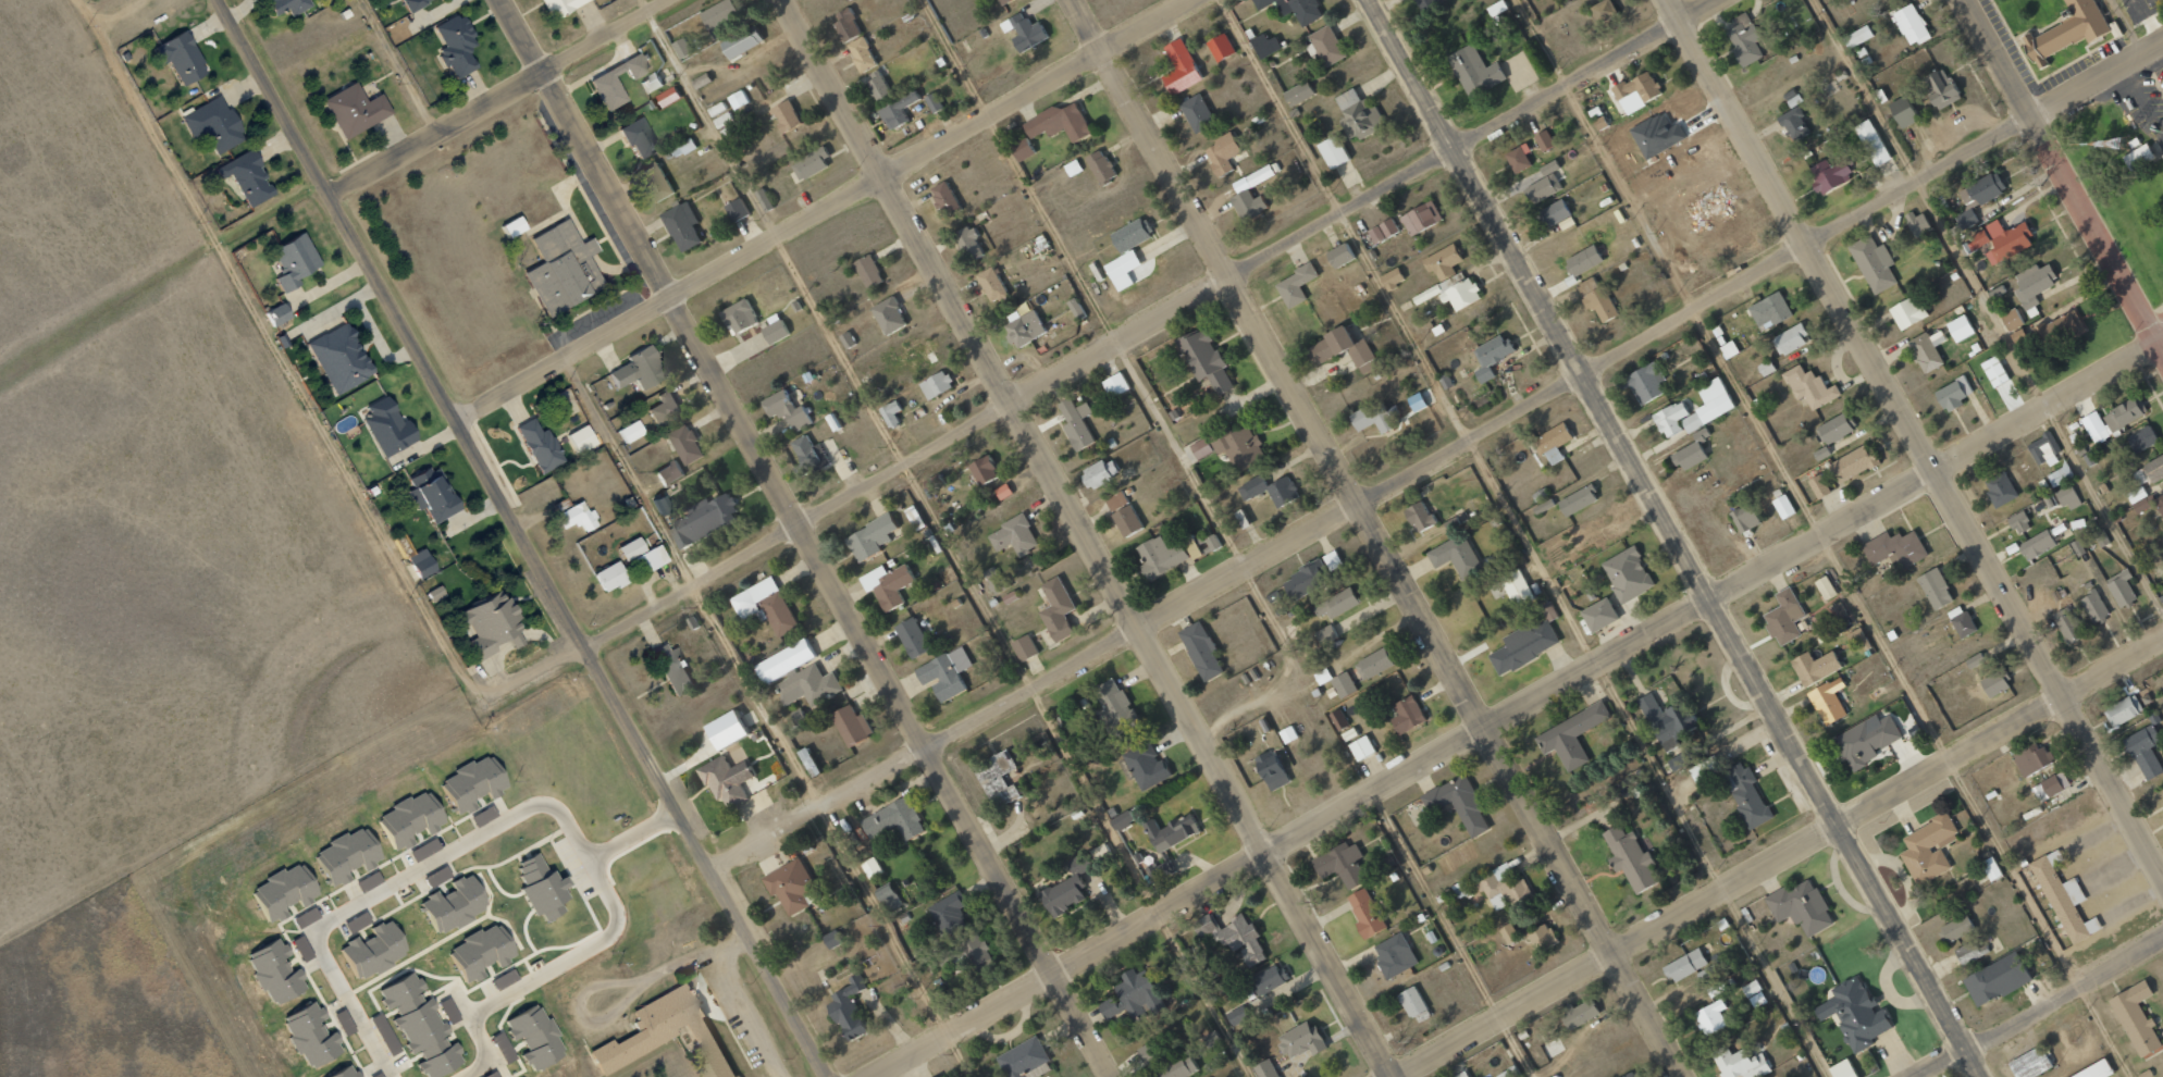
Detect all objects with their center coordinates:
building: (999, 1)
building: (409, 3)
building: (1425, 3)
building: (284, 5)
building: (557, 5)
building: (1296, 9)
building: (1603, 10)
building: (717, 18)
building: (846, 24)
building: (1911, 24)
road: (2127, 28)
building: (1026, 32)
building: (2069, 32)
building: (1858, 36)
building: (1744, 38)
building: (742, 41)
building: (453, 45)
building: (1265, 45)
building: (1325, 46)
building: (682, 47)
building: (1220, 47)
building: (861, 54)
building: (177, 55)
road: (399, 65)
building: (632, 65)
building: (1181, 69)
building: (1474, 70)
building: (702, 81)
building: (650, 83)
building: (878, 86)
building: (605, 87)
building: (1941, 88)
building: (1636, 90)
building: (1298, 92)
building: (668, 96)
road: (497, 97)
building: (738, 98)
building: (935, 102)
building: (350, 109)
building: (898, 110)
building: (1197, 112)
building: (1903, 112)
building: (1357, 113)
building: (786, 115)
building: (1060, 121)
building: (210, 123)
building: (1794, 123)
building: (635, 136)
building: (1544, 139)
building: (1871, 143)
building: (683, 147)
building: (1023, 148)
building: (1333, 151)
building: (1222, 153)
building: (2138, 157)
building: (1518, 158)
building: (809, 163)
building: (1101, 165)
building: (1074, 168)
building: (1549, 168)
building: (1829, 174)
building: (244, 176)
road: (2060, 178)
building: (655, 181)
building: (1543, 187)
building: (1243, 190)
building: (1978, 197)
building: (944, 198)
building: (764, 199)
road: (1360, 200)
building: (1705, 206)
building: (737, 209)
road: (825, 210)
building: (1555, 212)
building: (1421, 216)
building: (1918, 223)
building: (681, 225)
building: (508, 226)
building: (1383, 231)
building: (1132, 234)
building: (2008, 238)
building: (1978, 239)
building: (971, 242)
building: (1339, 255)
building: (291, 259)
building: (1583, 260)
building: (1443, 262)
building: (1874, 263)
building: (1122, 264)
building: (563, 269)
building: (868, 271)
building: (1392, 277)
building: (991, 284)
building: (1296, 284)
building: (2032, 284)
building: (1451, 293)
building: (1596, 298)
building: (1076, 307)
road: (1988, 309)
building: (1769, 310)
building: (1907, 312)
building: (273, 314)
building: (738, 315)
building: (889, 315)
building: (2012, 319)
building: (1960, 327)
building: (1025, 329)
building: (2060, 330)
building: (775, 331)
building: (1790, 338)
building: (1339, 347)
building: (1926, 350)
building: (1491, 355)
building: (335, 358)
building: (1206, 359)
building: (635, 368)
building: (1994, 371)
building: (1646, 382)
building: (936, 384)
building: (1115, 385)
building: (1809, 386)
building: (1952, 394)
building: (1417, 401)
building: (1709, 405)
road: (309, 407)
building: (664, 407)
building: (787, 409)
building: (2125, 412)
building: (891, 413)
building: (1375, 418)
building: (1670, 419)
building: (1076, 423)
building: (392, 428)
building: (1836, 428)
building: (2094, 428)
building: (628, 431)
building: (1701, 433)
road: (1915, 437)
building: (583, 438)
building: (2142, 438)
building: (1554, 442)
building: (542, 443)
building: (687, 444)
building: (1238, 445)
building: (1201, 448)
building: (1821, 454)
building: (2043, 454)
building: (808, 456)
building: (1689, 456)
road: (1434, 457)
building: (1854, 462)
building: (984, 469)
building: (2149, 471)
building: (1100, 472)
building: (667, 473)
building: (2060, 475)
building: (934, 481)
building: (1818, 486)
building: (2000, 488)
building: (1270, 490)
building: (1003, 491)
road: (1801, 492)
building: (432, 493)
building: (2068, 497)
building: (2140, 499)
building: (1578, 500)
building: (658, 503)
building: (2160, 503)
building: (2045, 505)
building: (1783, 506)
building: (1123, 513)
building: (1420, 516)
building: (579, 517)
building: (703, 519)
building: (1744, 519)
road: (792, 520)
building: (2019, 522)
building: (1014, 535)
road: (804, 537)
building: (870, 537)
road: (944, 537)
road: (1087, 537)
road: (520, 538)
road: (1228, 538)
road: (1377, 538)
road: (1527, 538)
road: (1673, 538)
building: (2100, 538)
building: (1209, 543)
building: (2038, 544)
building: (1895, 547)
building: (1455, 555)
building: (1161, 556)
building: (652, 557)
building: (422, 560)
building: (1332, 560)
building: (614, 574)
building: (1627, 574)
building: (996, 580)
building: (1307, 580)
building: (887, 584)
building: (1517, 586)
building: (1826, 587)
building: (1936, 589)
building: (2121, 589)
building: (432, 595)
building: (1336, 604)
building: (765, 605)
building: (2093, 606)
building: (1056, 608)
building: (1598, 615)
building: (1784, 617)
building: (490, 620)
building: (1961, 621)
building: (2067, 624)
building: (1326, 634)
building: (913, 636)
building: (1857, 639)
building: (1524, 645)
building: (1024, 647)
building: (1201, 649)
building: (1974, 660)
building: (784, 661)
building: (1375, 663)
building: (675, 666)
building: (1815, 667)
building: (945, 673)
building: (1995, 682)
building: (1343, 684)
building: (809, 685)
building: (1828, 701)
building: (1115, 707)
road: (1517, 708)
building: (2124, 709)
building: (1407, 715)
road: (767, 716)
building: (1674, 716)
building: (1338, 718)
building: (852, 725)
building: (726, 730)
building: (1571, 735)
building: (1866, 740)
building: (1362, 747)
building: (2145, 751)
building: (2032, 758)
building: (808, 762)
building: (1147, 765)
building: (1710, 768)
building: (1271, 770)
building: (730, 776)
building: (998, 777)
building: (467, 781)
building: (2055, 783)
building: (2039, 792)
building: (1754, 795)
building: (1458, 803)
building: (403, 819)
building: (894, 819)
building: (1122, 819)
building: (1171, 831)
road: (628, 835)
building: (1933, 846)
building: (339, 855)
road: (1779, 857)
building: (1630, 858)
building: (1343, 864)
building: (1997, 868)
building: (1161, 870)
road: (405, 875)
building: (795, 883)
building: (1505, 886)
building: (534, 887)
building: (1066, 889)
building: (1461, 889)
building: (277, 890)
building: (889, 897)
building: (2063, 897)
building: (448, 904)
building: (1806, 905)
building: (1365, 912)
building: (950, 913)
building: (302, 917)
building: (1956, 928)
building: (1509, 933)
building: (1233, 937)
building: (1542, 937)
building: (838, 939)
building: (368, 950)
building: (1972, 950)
building: (473, 952)
building: (978, 952)
building: (1394, 955)
building: (1685, 965)
building: (270, 970)
building: (500, 979)
building: (1270, 979)
building: (1997, 979)
building: (1751, 988)
building: (1136, 991)
road: (498, 993)
building: (852, 1001)
building: (1411, 1001)
building: (2137, 1006)
building: (1109, 1007)
road: (2041, 1007)
building: (446, 1011)
building: (1579, 1013)
building: (1855, 1014)
building: (1237, 1016)
building: (1711, 1017)
building: (413, 1024)
building: (670, 1032)
building: (306, 1035)
building: (529, 1036)
building: (1211, 1039)
building: (1301, 1040)
building: (505, 1055)
building: (1023, 1057)
building: (2036, 1062)
building: (1741, 1063)
building: (1177, 1068)
building: (1265, 1068)
building: (1842, 1069)
building: (2100, 1069)
building: (338, 1073)
building: (489, 1075)
building: (1462, 1075)
building: (1631, 1075)

